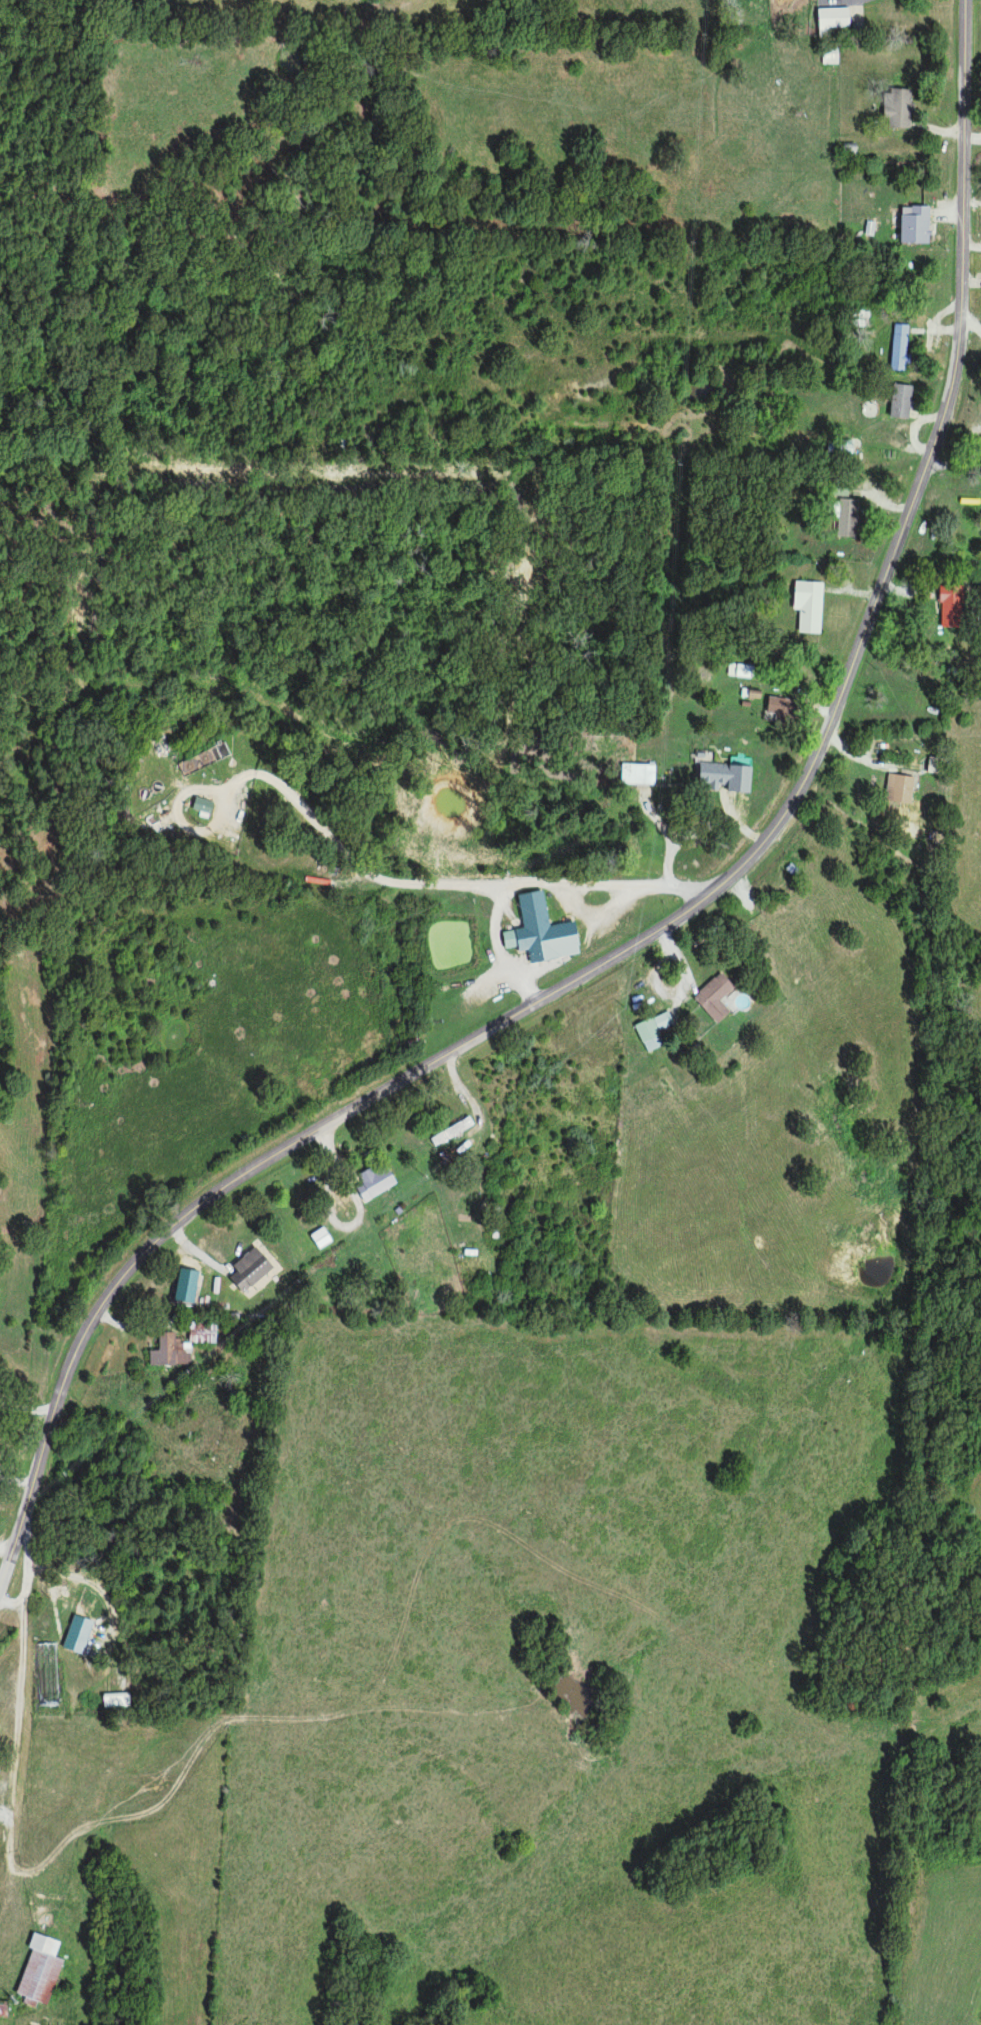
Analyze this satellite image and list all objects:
building: (832, 20)
building: (829, 57)
building: (896, 107)
building: (914, 224)
building: (899, 347)
building: (899, 400)
building: (837, 489)
building: (845, 518)
road: (888, 557)
building: (807, 606)
building: (950, 606)
building: (741, 671)
building: (775, 708)
road: (667, 724)
building: (202, 760)
building: (636, 774)
building: (898, 789)
building: (201, 807)
road: (430, 882)
building: (539, 932)
building: (713, 997)
building: (653, 1030)
building: (450, 1132)
building: (373, 1183)
road: (189, 1211)
building: (319, 1238)
building: (248, 1270)
building: (184, 1286)
building: (200, 1333)
building: (169, 1352)
road: (4, 1553)
road: (10, 1606)
building: (76, 1635)
building: (114, 1701)
road: (16, 1702)
building: (39, 1971)
road: (6, 1977)
building: (3, 2008)

